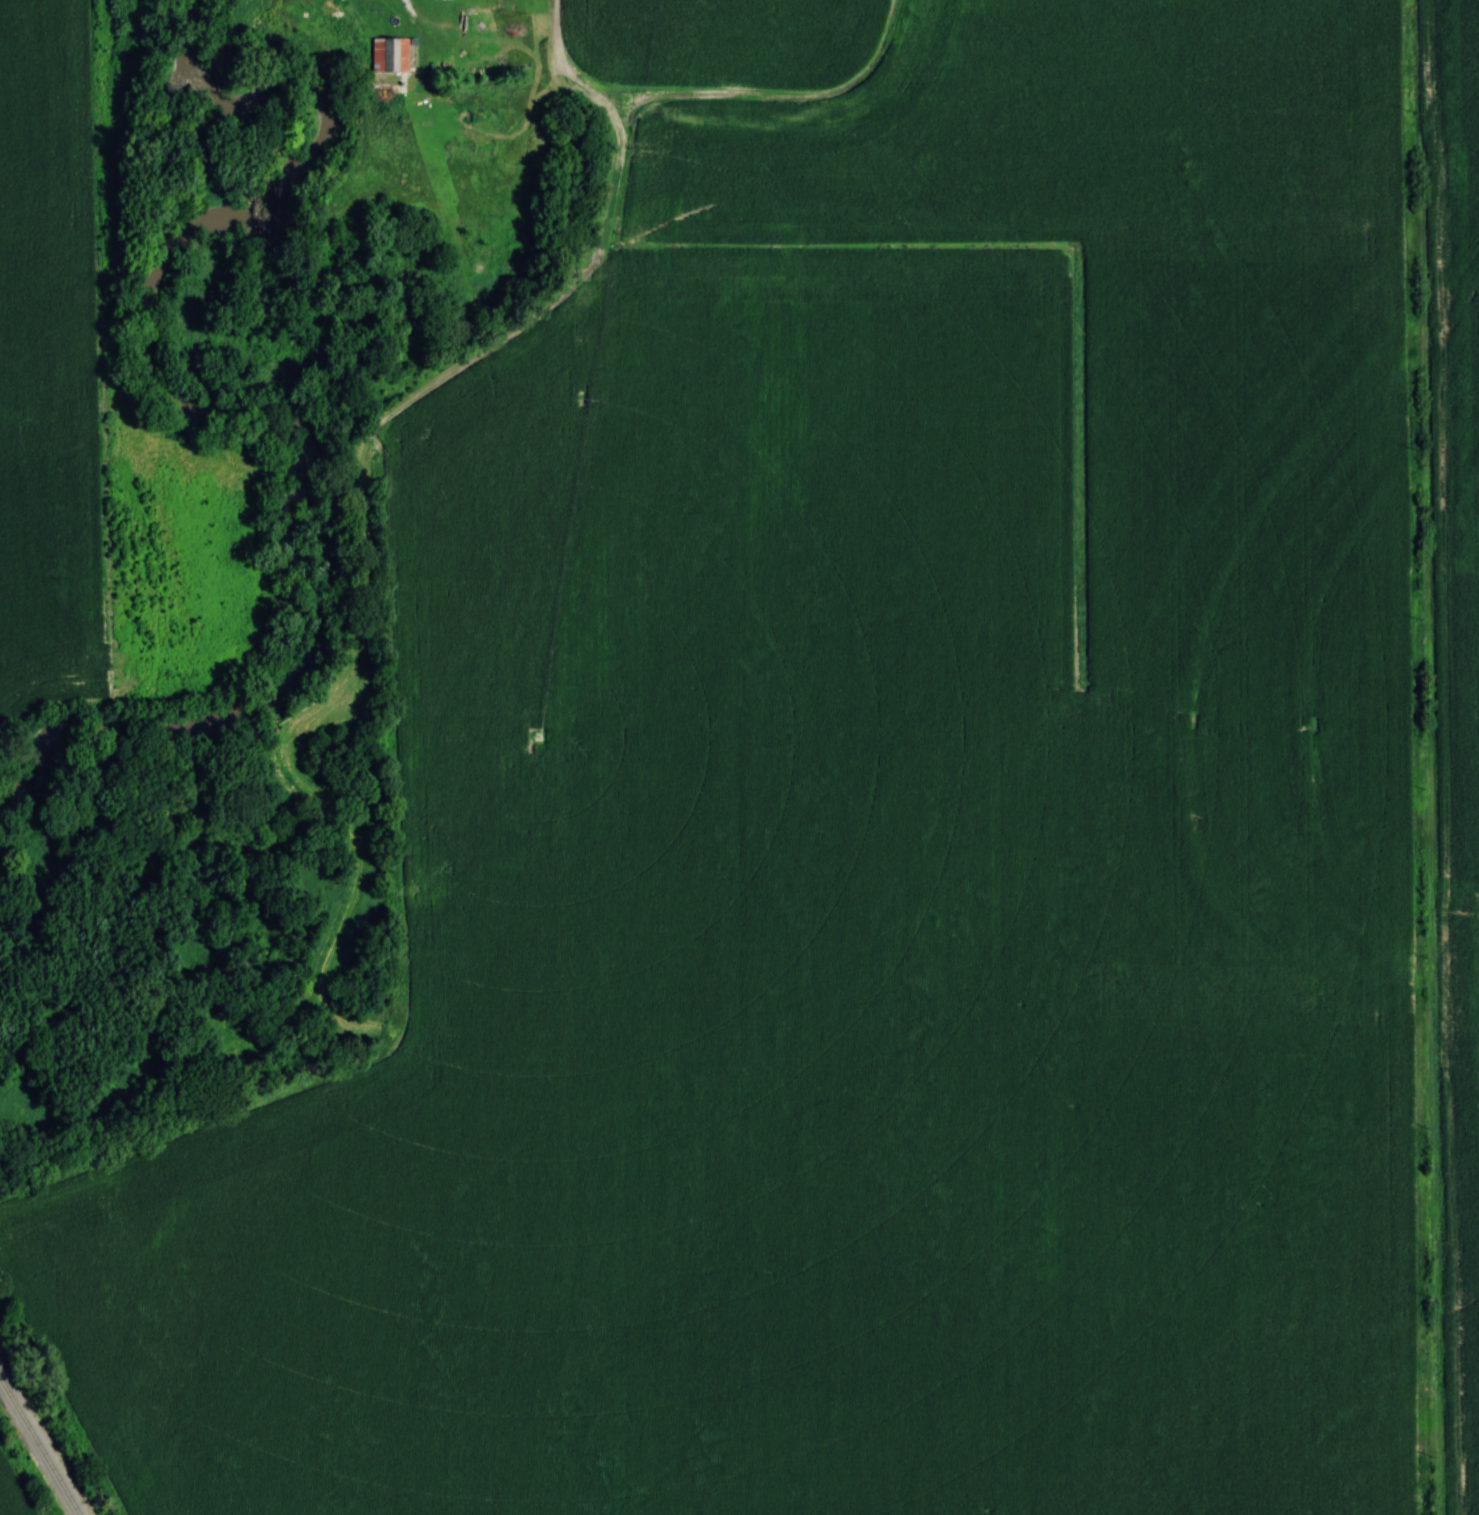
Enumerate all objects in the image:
road: (405, 9)
building: (387, 54)
river: (237, 420)
railway: (42, 1441)

